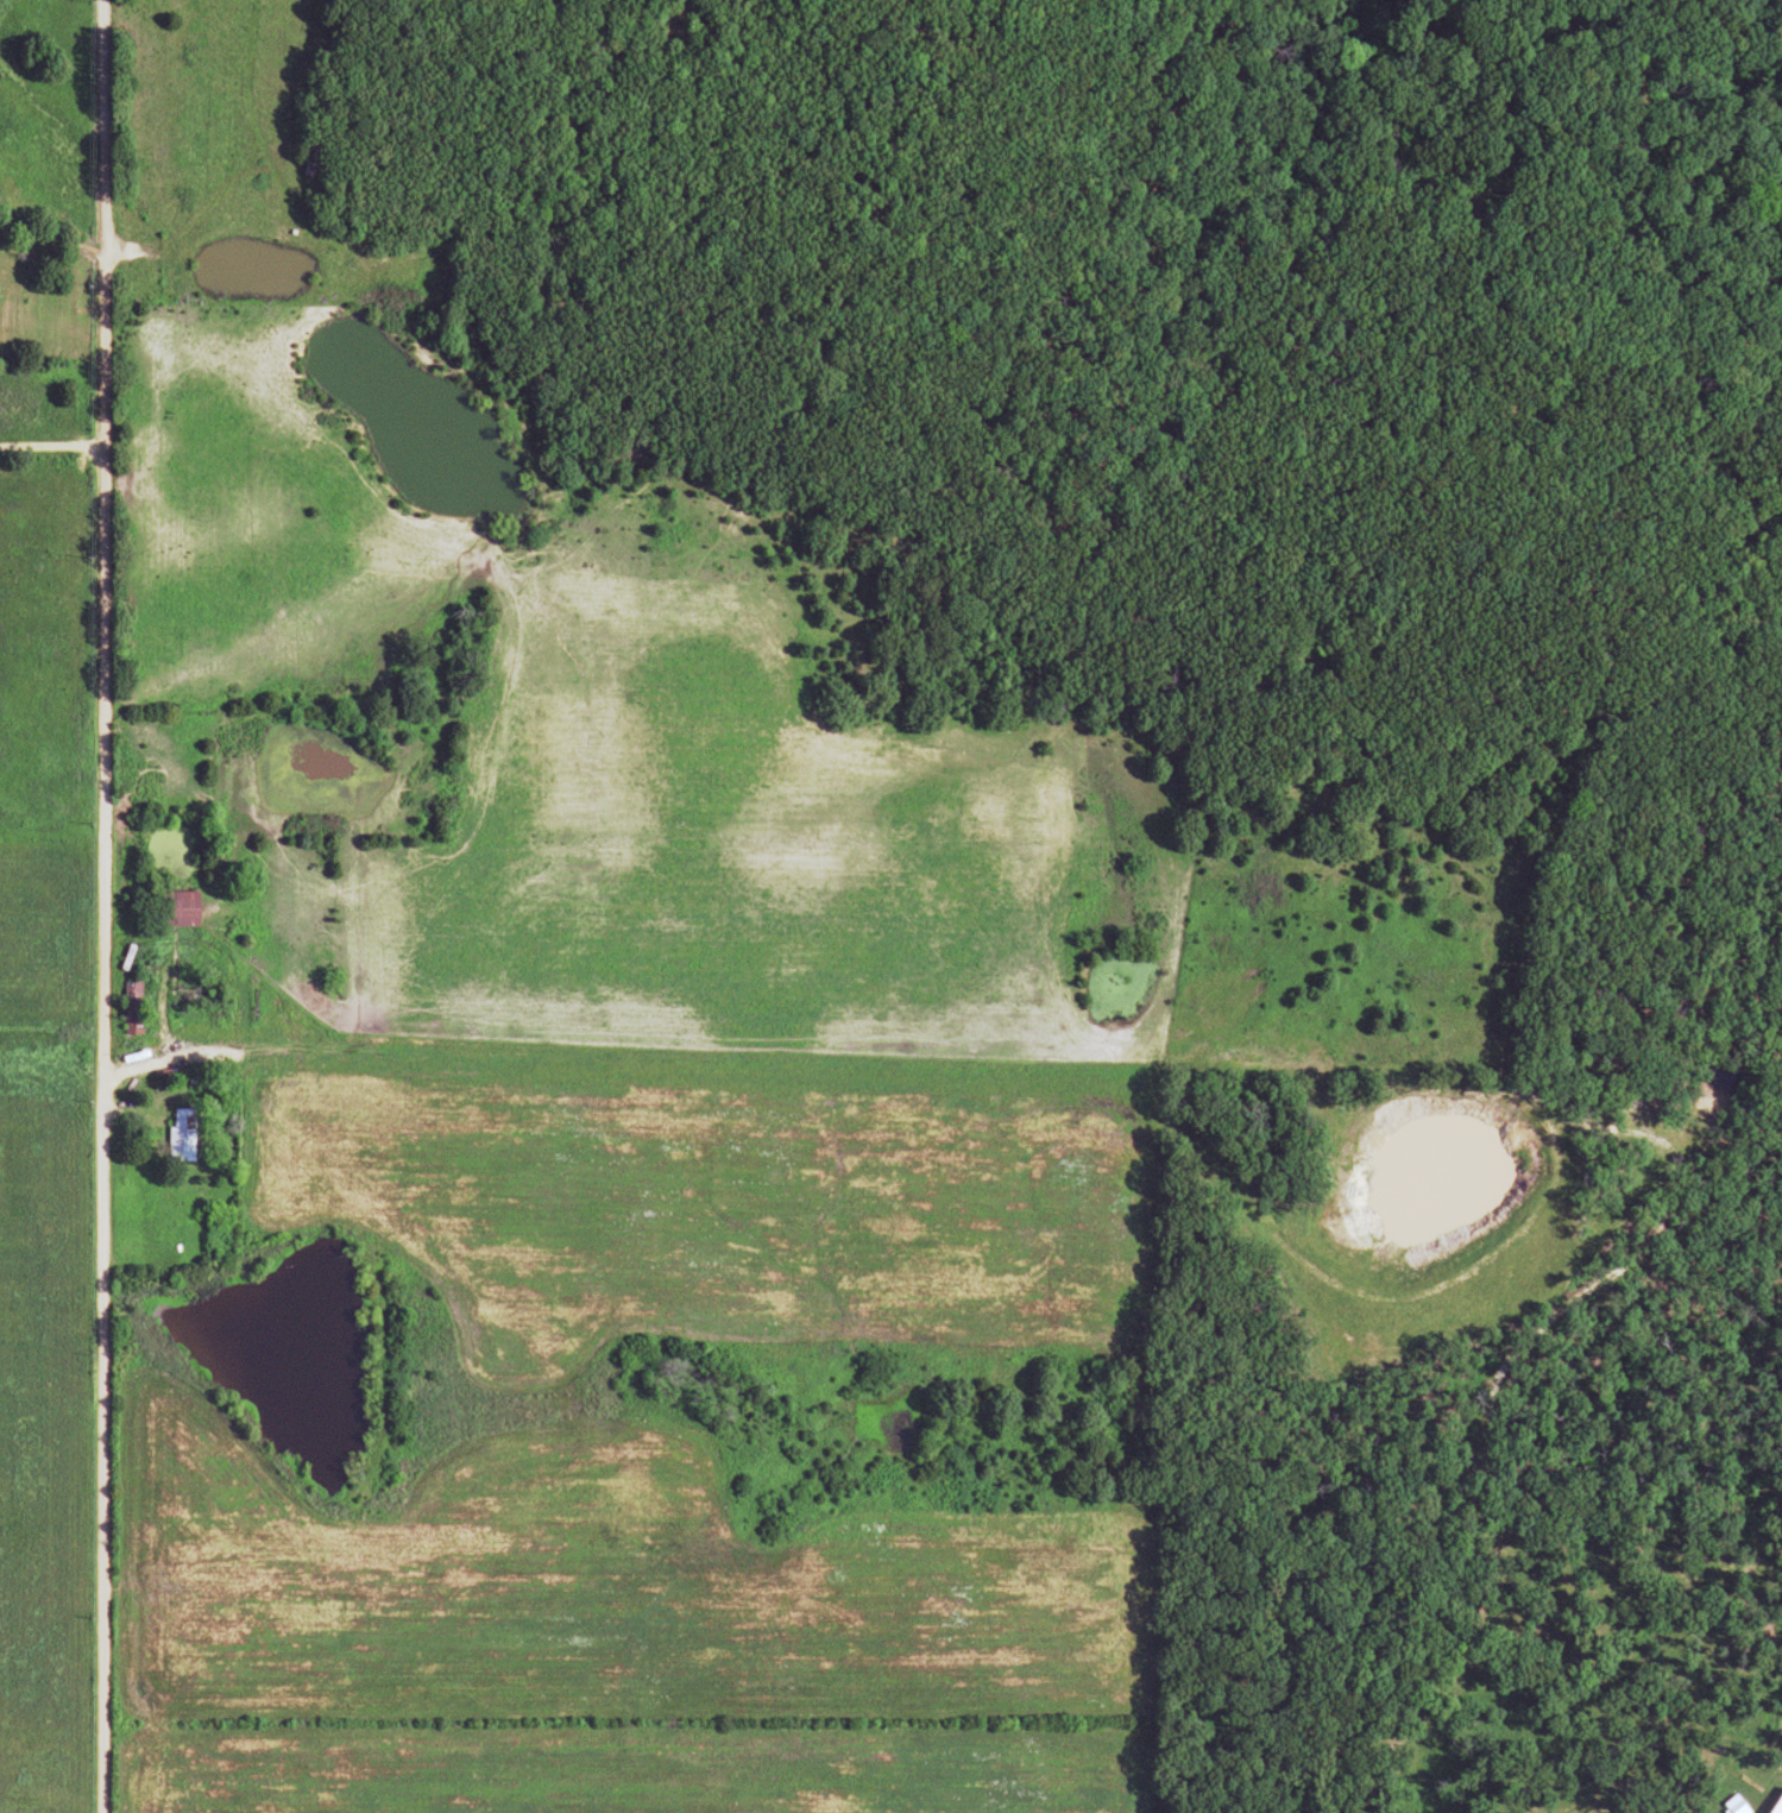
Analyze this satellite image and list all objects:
building: (311, 162)
road: (52, 446)
road: (105, 906)
building: (171, 909)
building: (130, 1008)
road: (169, 1057)
building: (178, 1135)

